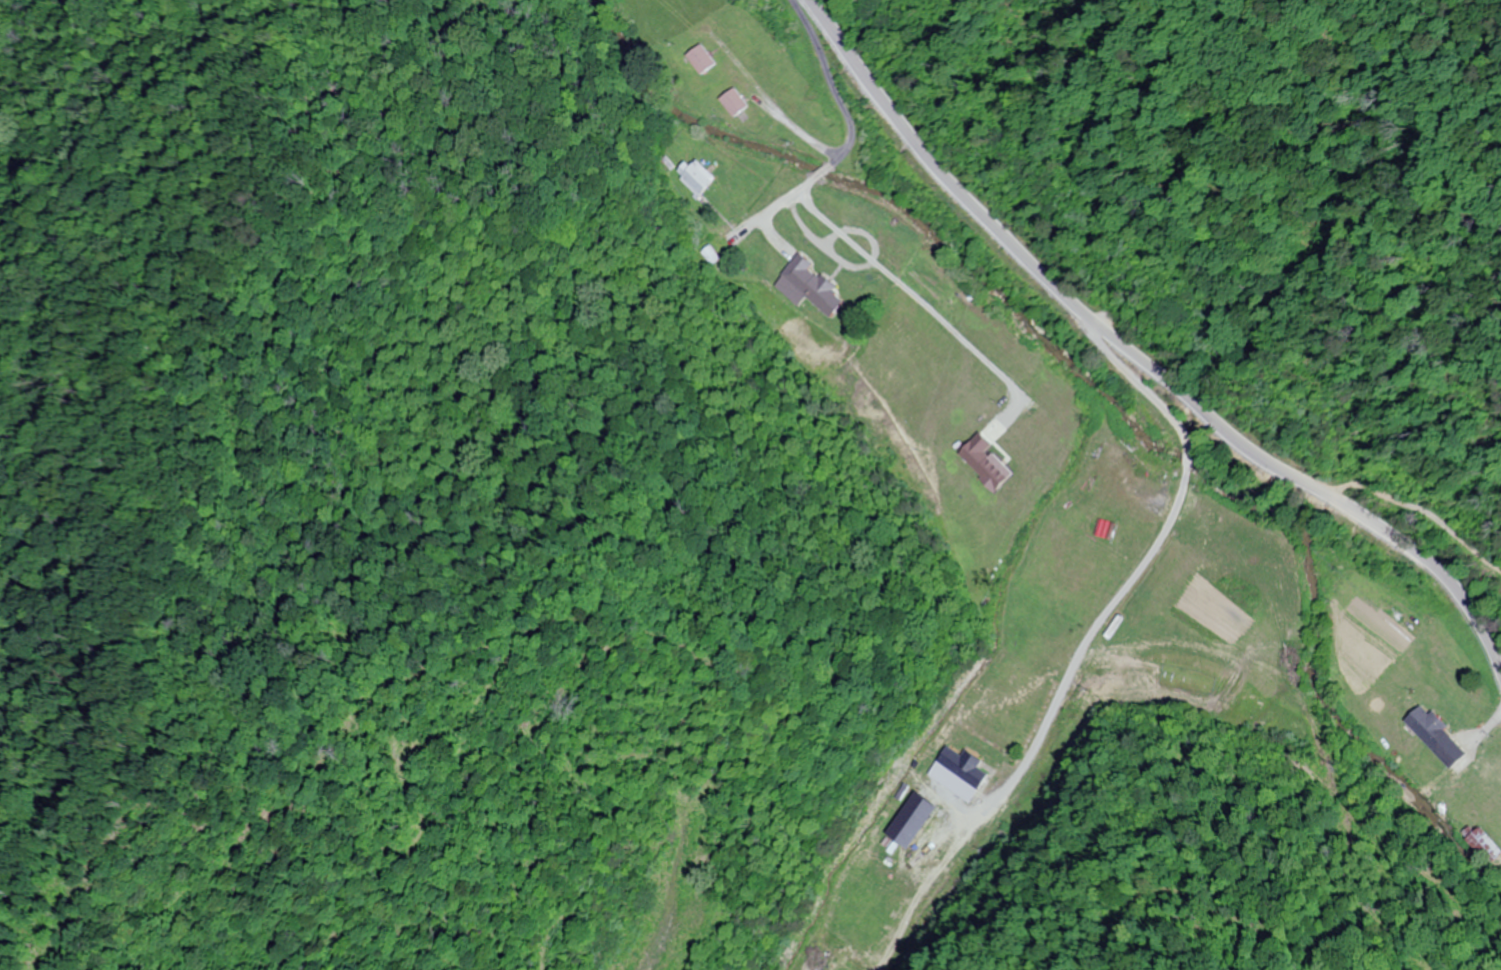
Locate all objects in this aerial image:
building: (702, 58)
building: (735, 101)
building: (694, 175)
road: (758, 282)
building: (806, 285)
road: (1142, 357)
road: (1163, 564)
building: (1436, 734)
building: (957, 771)
building: (909, 819)
building: (1485, 841)

